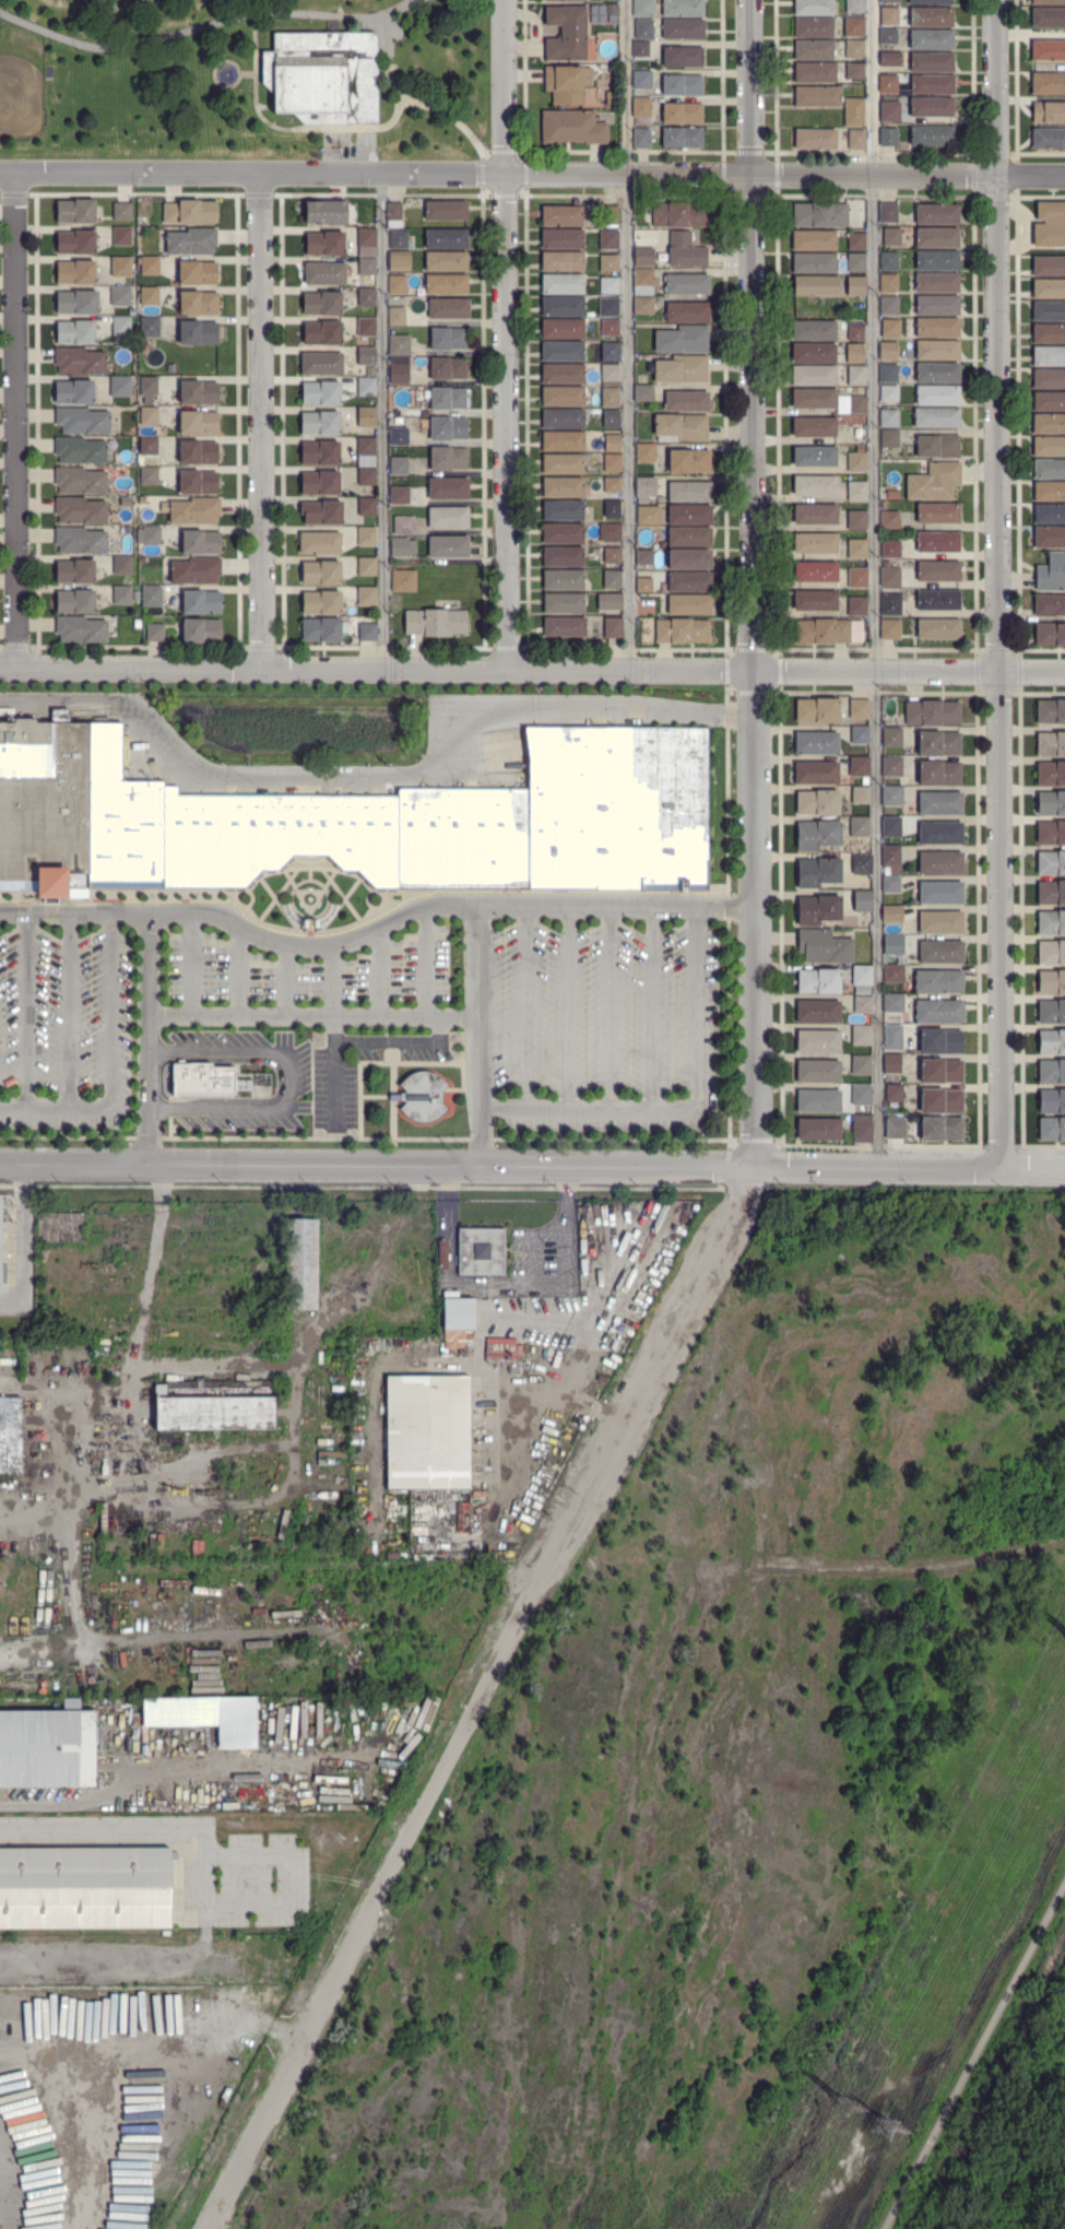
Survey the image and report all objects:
building: (564, 0)
building: (888, 1)
building: (930, 2)
building: (1048, 2)
building: (854, 5)
road: (389, 7)
building: (642, 8)
building: (682, 8)
building: (812, 8)
building: (611, 9)
road: (292, 12)
building: (888, 16)
building: (931, 17)
building: (1048, 17)
building: (812, 27)
building: (853, 27)
building: (683, 28)
building: (643, 30)
building: (566, 33)
building: (887, 37)
building: (930, 39)
building: (640, 49)
building: (853, 49)
building: (812, 50)
building: (1046, 50)
building: (682, 57)
building: (931, 62)
building: (854, 71)
building: (815, 73)
building: (322, 76)
park: (246, 78)
building: (641, 80)
building: (887, 83)
building: (567, 84)
building: (1048, 84)
building: (682, 85)
building: (932, 85)
building: (817, 96)
building: (641, 107)
building: (931, 107)
building: (888, 111)
building: (1048, 113)
building: (682, 114)
building: (853, 116)
building: (571, 127)
building: (932, 137)
building: (682, 138)
building: (887, 138)
building: (641, 139)
building: (814, 139)
building: (855, 139)
building: (1048, 139)
road: (532, 174)
building: (445, 210)
building: (75, 211)
building: (121, 212)
building: (189, 212)
building: (326, 212)
building: (887, 213)
building: (606, 214)
building: (678, 214)
building: (936, 214)
building: (394, 215)
building: (819, 215)
building: (561, 216)
building: (1049, 224)
building: (121, 236)
building: (366, 237)
building: (890, 237)
building: (936, 237)
building: (398, 238)
building: (446, 239)
building: (563, 239)
building: (608, 239)
building: (813, 240)
building: (191, 241)
building: (855, 241)
building: (75, 243)
building: (324, 243)
building: (683, 250)
building: (936, 260)
building: (399, 261)
building: (446, 261)
building: (888, 261)
building: (561, 262)
building: (607, 262)
building: (813, 263)
building: (855, 263)
building: (149, 266)
building: (1048, 266)
building: (120, 267)
building: (367, 267)
building: (75, 272)
building: (197, 273)
building: (324, 273)
building: (642, 278)
building: (888, 283)
building: (936, 283)
building: (446, 284)
building: (563, 284)
building: (686, 284)
building: (397, 285)
building: (608, 285)
building: (815, 286)
building: (854, 286)
building: (1049, 288)
building: (119, 296)
building: (149, 296)
building: (366, 297)
building: (76, 302)
building: (321, 303)
building: (199, 304)
building: (642, 305)
building: (887, 305)
building: (936, 305)
building: (561, 306)
building: (607, 307)
building: (447, 308)
building: (1048, 310)
building: (687, 311)
building: (395, 316)
building: (120, 326)
building: (149, 327)
building: (366, 327)
building: (610, 327)
building: (889, 328)
building: (936, 328)
building: (563, 329)
building: (813, 331)
building: (74, 332)
building: (198, 332)
road: (505, 332)
building: (855, 332)
building: (321, 333)
road: (627, 333)
road: (750, 333)
building: (1049, 333)
building: (447, 338)
building: (681, 339)
building: (398, 345)
building: (936, 350)
building: (561, 352)
building: (610, 352)
building: (887, 352)
building: (812, 353)
building: (854, 353)
building: (1049, 356)
building: (366, 357)
building: (78, 361)
building: (321, 364)
building: (170, 368)
building: (447, 368)
building: (681, 368)
building: (368, 371)
building: (610, 373)
building: (887, 373)
building: (936, 373)
building: (398, 374)
building: (563, 374)
building: (813, 376)
building: (1049, 378)
building: (120, 387)
building: (366, 387)
building: (147, 388)
building: (73, 391)
building: (198, 392)
building: (320, 392)
building: (642, 392)
building: (887, 393)
building: (936, 394)
building: (563, 397)
building: (610, 397)
building: (447, 398)
building: (813, 398)
building: (686, 401)
building: (1049, 401)
building: (856, 404)
building: (149, 415)
building: (367, 416)
building: (935, 416)
road: (13, 418)
building: (563, 418)
building: (888, 418)
road: (260, 420)
road: (381, 420)
building: (611, 420)
building: (82, 421)
building: (198, 423)
building: (319, 423)
building: (1048, 424)
building: (679, 427)
building: (813, 427)
building: (447, 428)
building: (398, 436)
building: (889, 438)
building: (563, 441)
building: (149, 445)
building: (937, 446)
building: (1048, 446)
building: (365, 447)
building: (80, 450)
building: (884, 451)
building: (198, 452)
building: (319, 452)
building: (644, 452)
building: (814, 457)
building: (447, 458)
building: (687, 461)
building: (855, 461)
building: (612, 462)
building: (561, 464)
building: (399, 465)
building: (1048, 469)
building: (149, 475)
building: (366, 476)
building: (80, 481)
building: (933, 481)
building: (198, 483)
building: (319, 483)
building: (612, 485)
building: (814, 485)
building: (563, 487)
building: (447, 488)
building: (856, 491)
building: (1049, 491)
building: (689, 492)
building: (891, 494)
building: (399, 495)
building: (126, 502)
building: (881, 505)
building: (366, 507)
building: (611, 508)
building: (80, 510)
building: (193, 510)
building: (563, 510)
building: (320, 511)
building: (937, 512)
building: (1049, 514)
building: (689, 515)
building: (814, 515)
building: (447, 517)
building: (888, 519)
building: (855, 520)
building: (403, 526)
building: (127, 529)
building: (610, 532)
building: (563, 534)
building: (151, 535)
building: (365, 536)
building: (688, 536)
building: (1049, 536)
building: (80, 541)
building: (937, 542)
building: (199, 543)
building: (319, 543)
building: (814, 543)
building: (401, 546)
building: (447, 546)
building: (889, 549)
building: (856, 550)
building: (563, 556)
building: (612, 556)
building: (643, 557)
building: (688, 558)
building: (121, 565)
building: (366, 566)
building: (814, 570)
building: (194, 571)
building: (937, 571)
building: (74, 573)
building: (320, 573)
building: (1051, 573)
building: (889, 576)
building: (856, 578)
building: (612, 579)
building: (563, 580)
building: (688, 581)
road: (874, 585)
road: (999, 585)
building: (638, 589)
building: (121, 595)
building: (150, 597)
building: (365, 597)
building: (395, 599)
building: (937, 600)
building: (74, 601)
building: (608, 601)
building: (815, 601)
building: (200, 602)
building: (321, 602)
building: (563, 603)
building: (889, 604)
building: (689, 605)
building: (856, 605)
building: (1049, 605)
building: (644, 608)
building: (435, 622)
building: (137, 624)
building: (564, 627)
building: (612, 627)
building: (80, 629)
building: (889, 629)
building: (937, 629)
building: (200, 630)
building: (320, 630)
building: (681, 630)
building: (367, 632)
building: (821, 632)
building: (154, 633)
building: (1049, 635)
road: (376, 667)
road: (909, 668)
building: (859, 709)
building: (816, 710)
building: (1050, 711)
building: (931, 712)
building: (860, 735)
building: (891, 738)
building: (937, 743)
building: (816, 744)
building: (1050, 744)
building: (857, 766)
building: (891, 766)
building: (816, 773)
building: (938, 774)
building: (1051, 774)
road: (375, 776)
building: (860, 795)
building: (891, 795)
building: (817, 803)
building: (938, 803)
building: (1050, 803)
building: (360, 821)
building: (859, 826)
building: (890, 826)
building: (940, 834)
building: (1050, 834)
building: (816, 835)
building: (890, 854)
building: (1051, 862)
building: (939, 863)
building: (861, 864)
building: (817, 872)
building: (890, 884)
building: (844, 885)
building: (939, 893)
building: (1051, 893)
building: (861, 900)
road: (615, 905)
building: (817, 909)
road: (73, 911)
building: (891, 913)
road: (754, 917)
building: (939, 922)
building: (1051, 922)
road: (312, 944)
building: (892, 944)
building: (823, 946)
building: (940, 953)
building: (1051, 953)
road: (425, 960)
road: (190, 963)
road: (238, 970)
road: (379, 971)
building: (892, 974)
building: (861, 976)
road: (285, 979)
building: (818, 981)
building: (937, 981)
building: (1051, 982)
building: (891, 1002)
building: (862, 1004)
road: (526, 1005)
road: (568, 1005)
road: (610, 1006)
road: (652, 1006)
road: (26, 1009)
road: (69, 1009)
building: (817, 1012)
building: (938, 1012)
building: (1051, 1012)
road: (312, 1015)
road: (696, 1028)
road: (110, 1029)
road: (334, 1034)
building: (860, 1035)
road: (478, 1036)
road: (147, 1038)
building: (817, 1041)
building: (938, 1041)
building: (1051, 1041)
road: (400, 1042)
building: (886, 1047)
parking lot: (594, 1058)
building: (891, 1063)
building: (860, 1065)
building: (817, 1071)
building: (939, 1071)
building: (1051, 1071)
parking lot: (246, 1076)
building: (203, 1077)
road: (286, 1082)
parking lot: (335, 1093)
building: (894, 1094)
building: (861, 1095)
building: (421, 1097)
building: (818, 1100)
building: (939, 1101)
building: (1051, 1101)
road: (34, 1106)
road: (566, 1107)
building: (895, 1128)
building: (939, 1128)
building: (817, 1129)
building: (1051, 1129)
building: (861, 1130)
road: (74, 1165)
road: (313, 1167)
road: (772, 1168)
building: (59, 1227)
road: (24, 1247)
building: (480, 1251)
building: (0, 1257)
building: (299, 1264)
road: (505, 1286)
building: (458, 1313)
road: (141, 1324)
building: (211, 1407)
building: (426, 1431)
building: (9, 1435)
road: (59, 1500)
road: (481, 1698)
building: (46, 1749)
road: (55, 1802)
road: (113, 1826)
building: (85, 1884)
park: (85, 1884)
road: (282, 1907)
road: (975, 2059)
power tower: (848, 2106)
power tower: (887, 2130)

